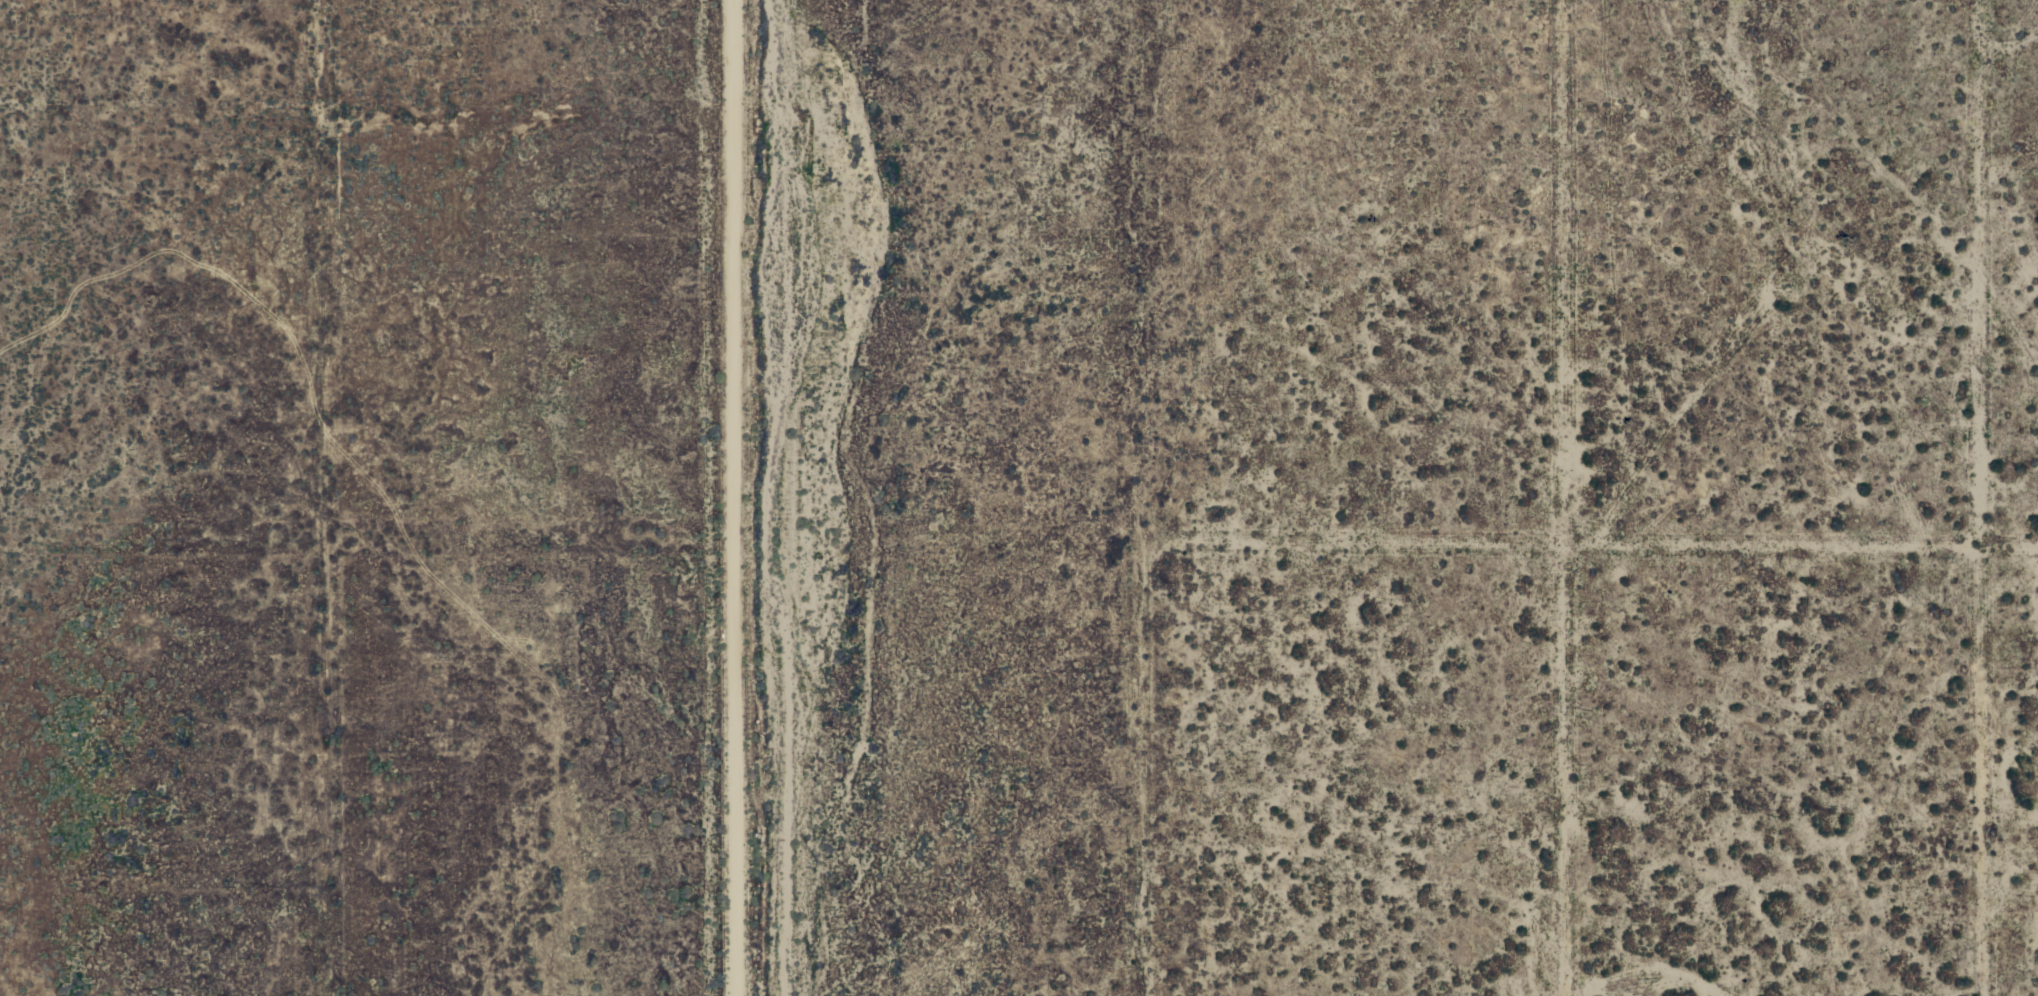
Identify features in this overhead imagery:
road: (732, 498)

